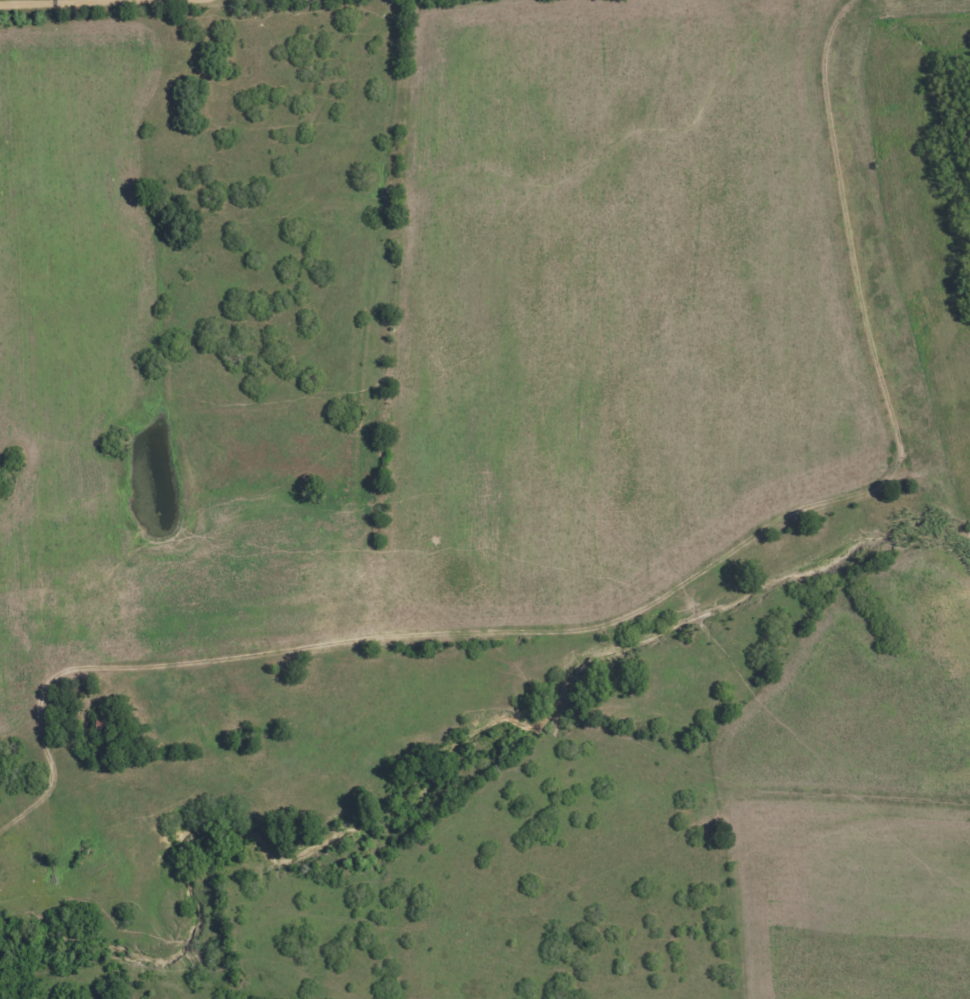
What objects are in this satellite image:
road: (767, 528)

